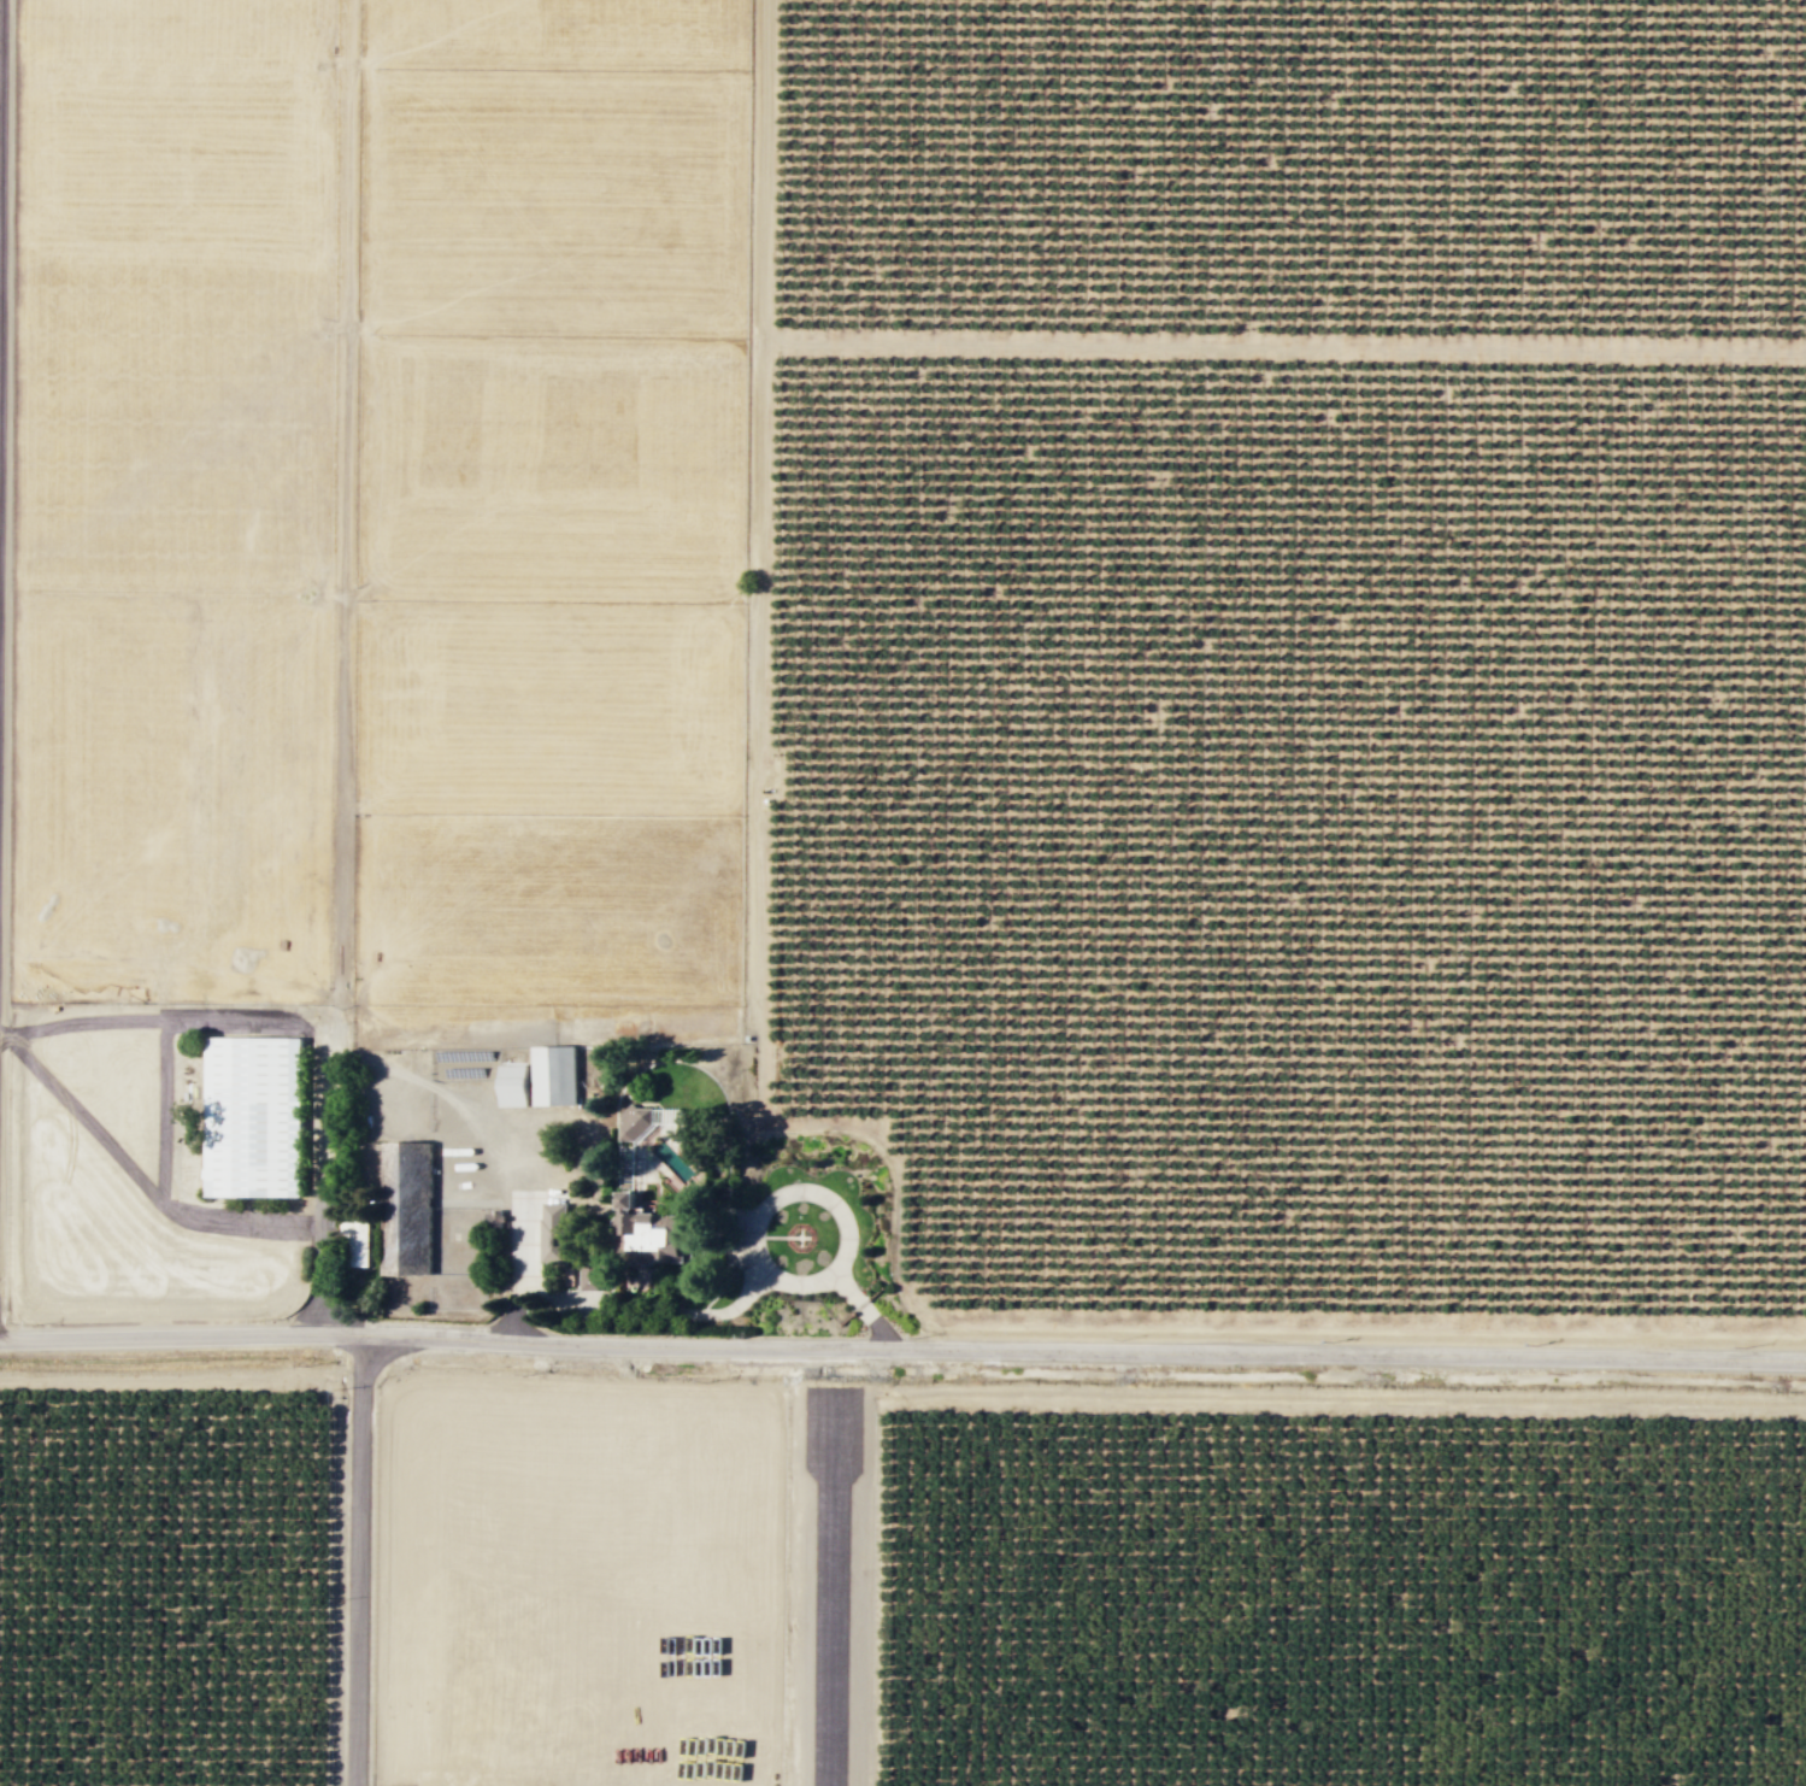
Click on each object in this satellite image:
road: (0, 27)
building: (254, 1115)
road: (795, 1124)
road: (325, 1194)
building: (654, 1228)
building: (555, 1230)
building: (363, 1240)
road: (843, 1268)
building: (592, 1274)
road: (624, 1302)
road: (865, 1311)
road: (902, 1347)
road: (181, 1376)
road: (1147, 1399)
road: (354, 1559)
airport: (829, 1581)
airport runway: (831, 1598)

